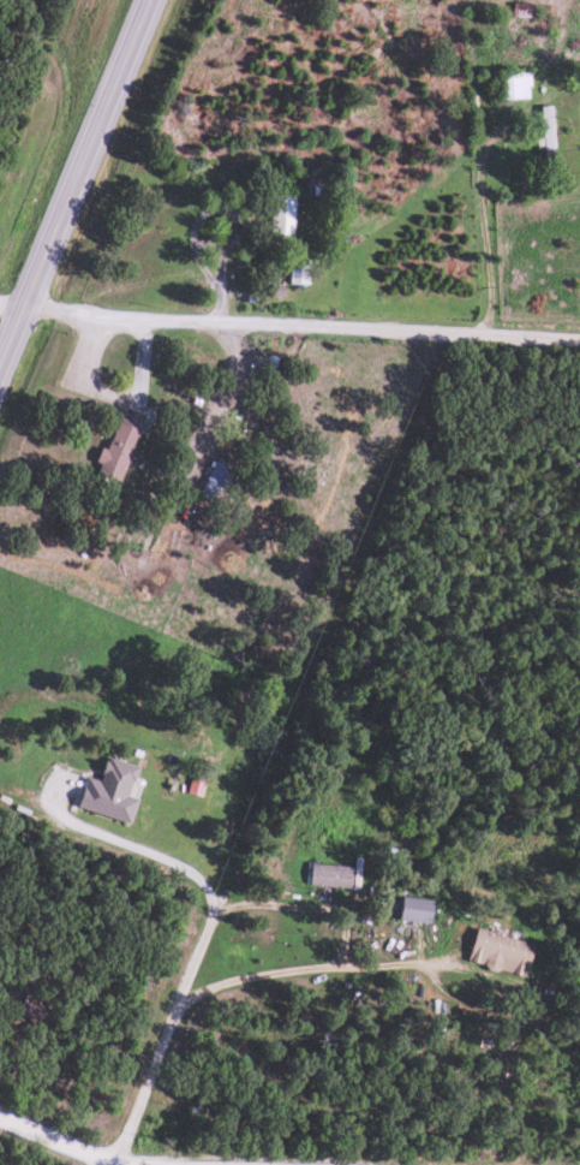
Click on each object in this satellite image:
building: (520, 11)
building: (513, 87)
building: (545, 133)
road: (70, 177)
building: (279, 214)
road: (482, 236)
building: (297, 274)
road: (7, 310)
road: (300, 327)
road: (223, 388)
building: (116, 445)
building: (303, 469)
building: (215, 483)
building: (107, 792)
road: (180, 863)
building: (328, 876)
building: (497, 953)
road: (228, 983)
building: (30, 1010)
road: (58, 1145)
road: (128, 1164)

